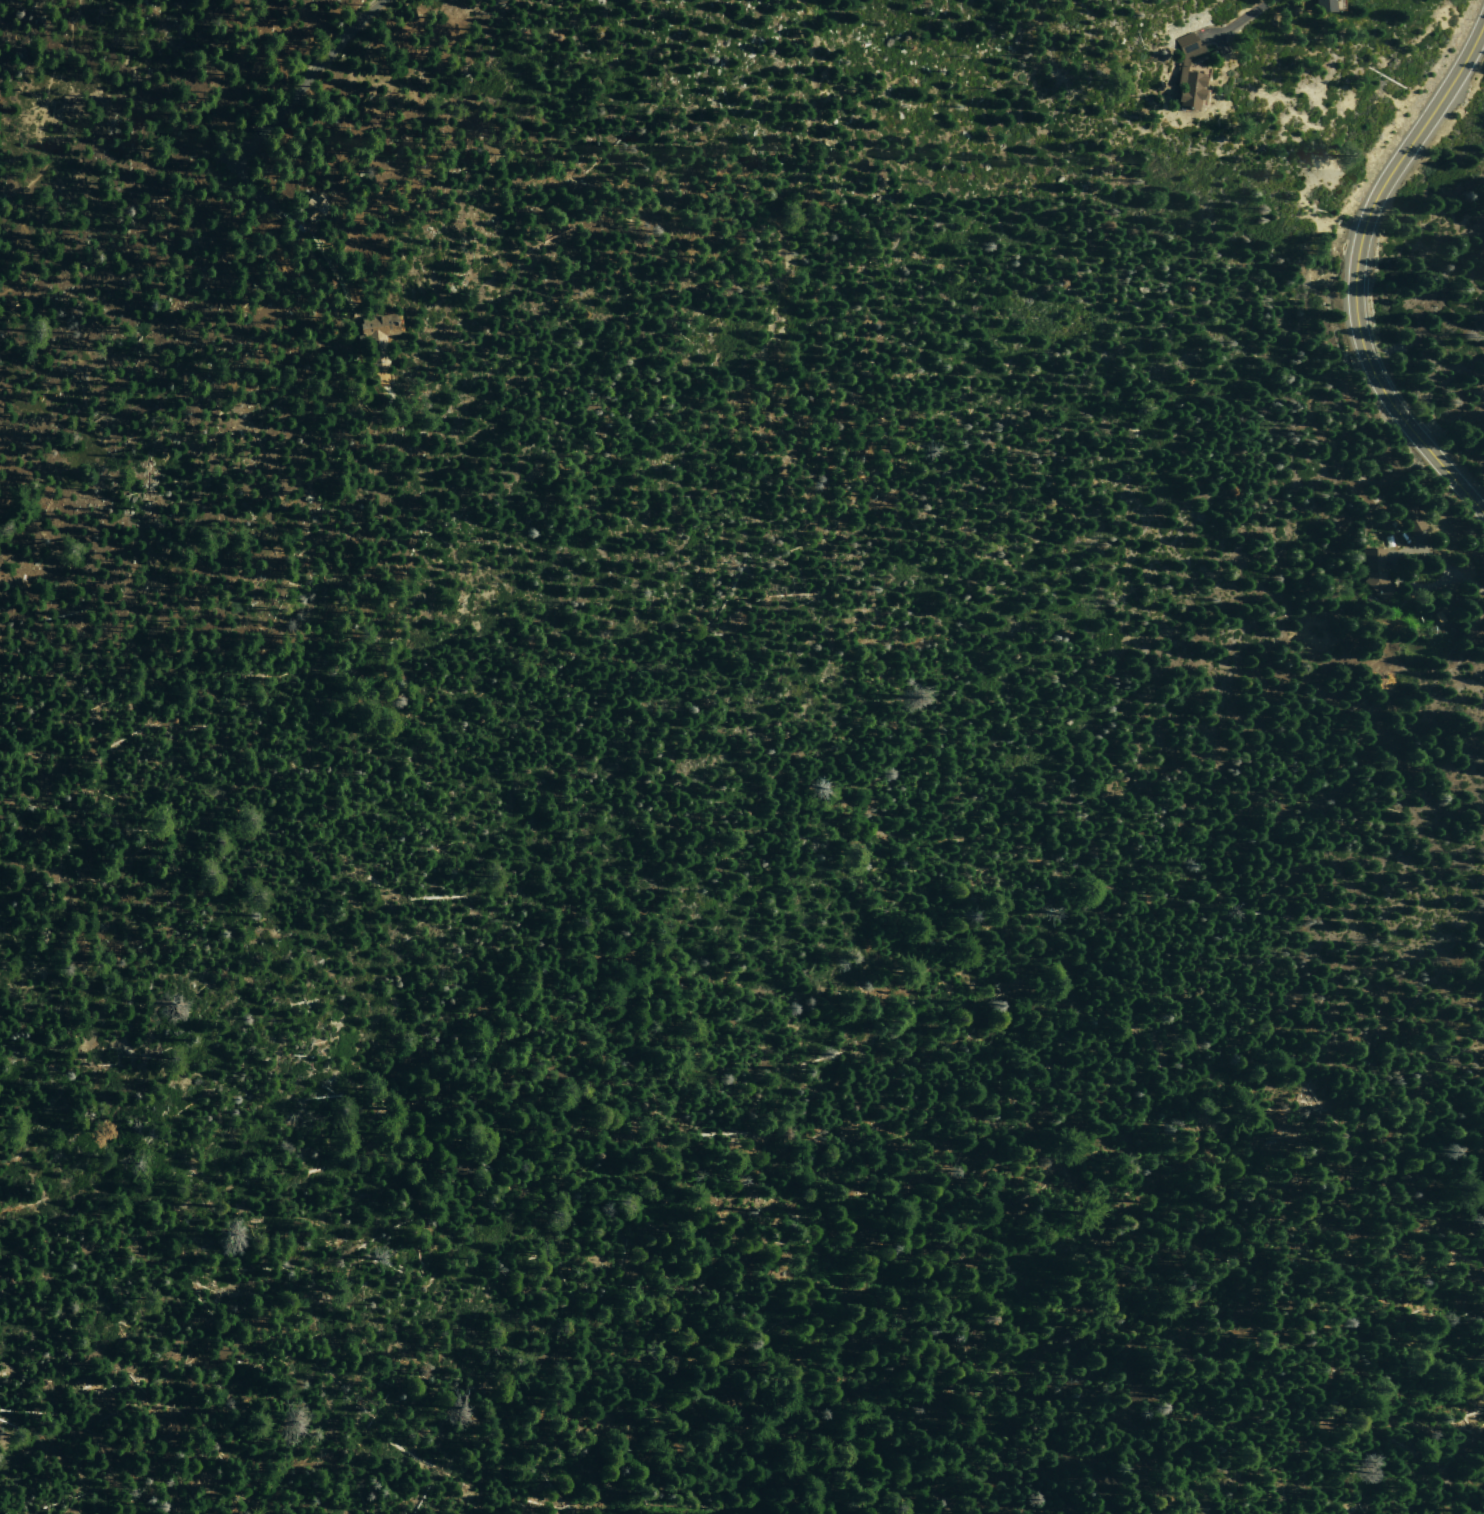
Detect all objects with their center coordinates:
building: (1323, 6)
road: (1236, 21)
building: (1185, 73)
road: (41, 146)
road: (236, 150)
building: (309, 209)
road: (1354, 270)
building: (376, 336)
building: (1409, 520)
road: (1448, 570)
building: (1372, 571)
road: (1425, 585)
building: (1438, 616)
road: (1127, 1228)
road: (798, 1488)

